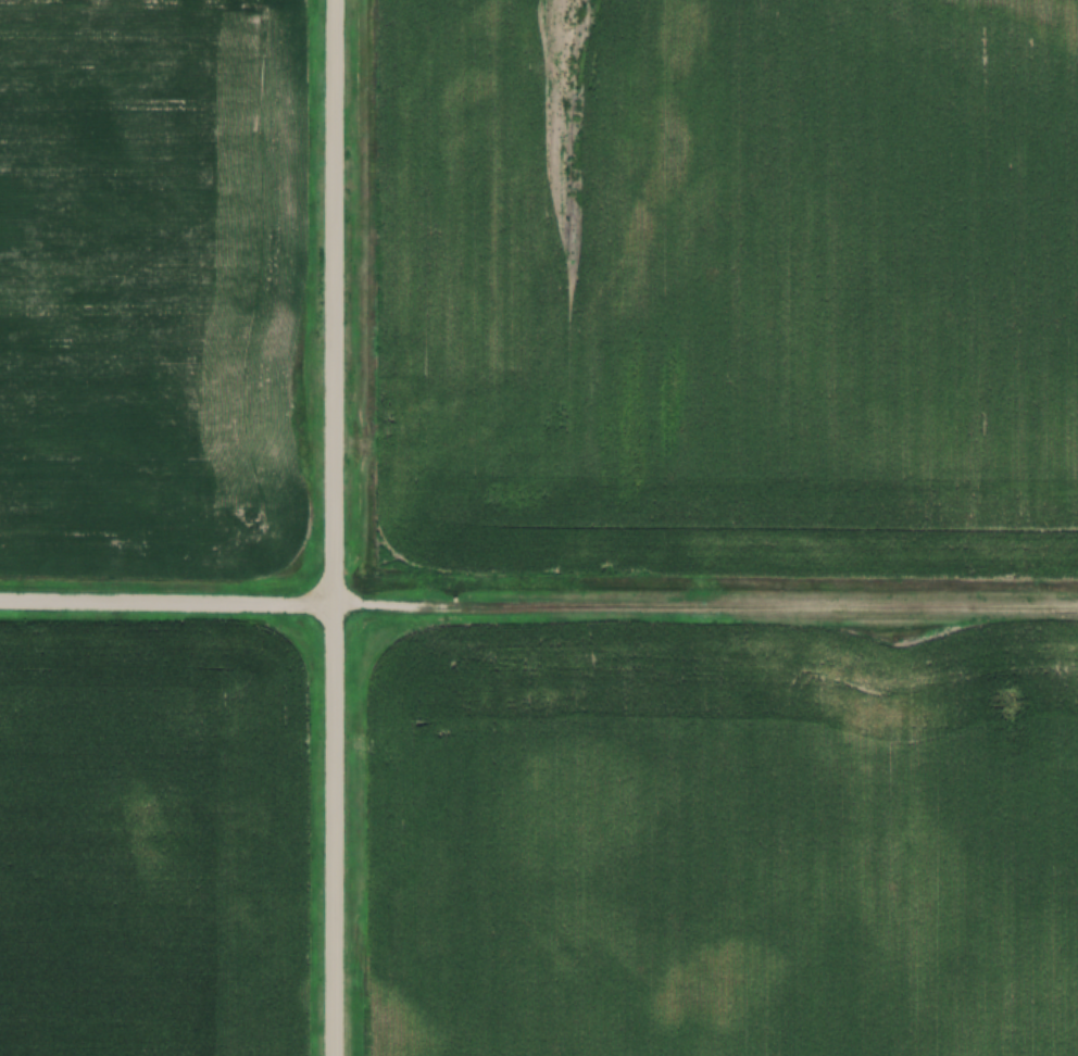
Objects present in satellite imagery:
crop: (728, 280)
road: (340, 527)
road: (170, 593)
road: (709, 598)

